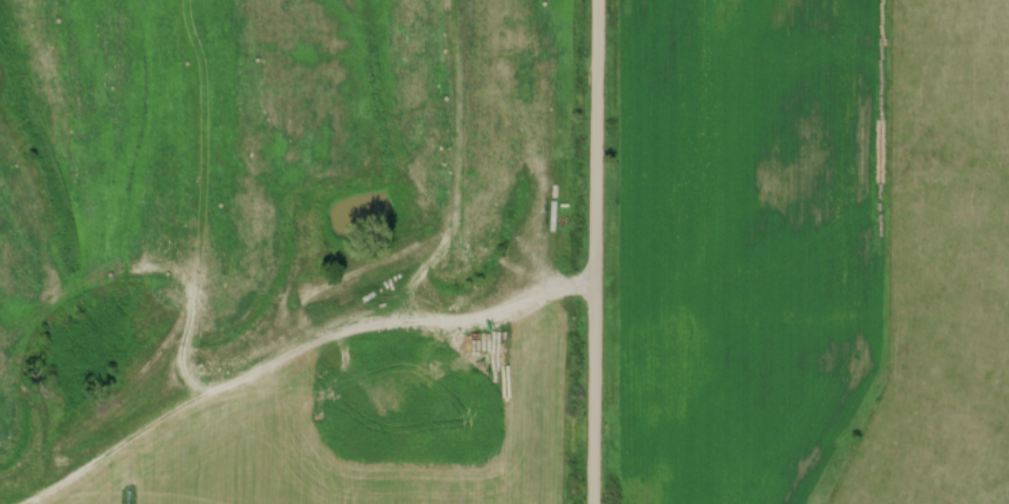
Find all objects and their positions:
road: (597, 251)

